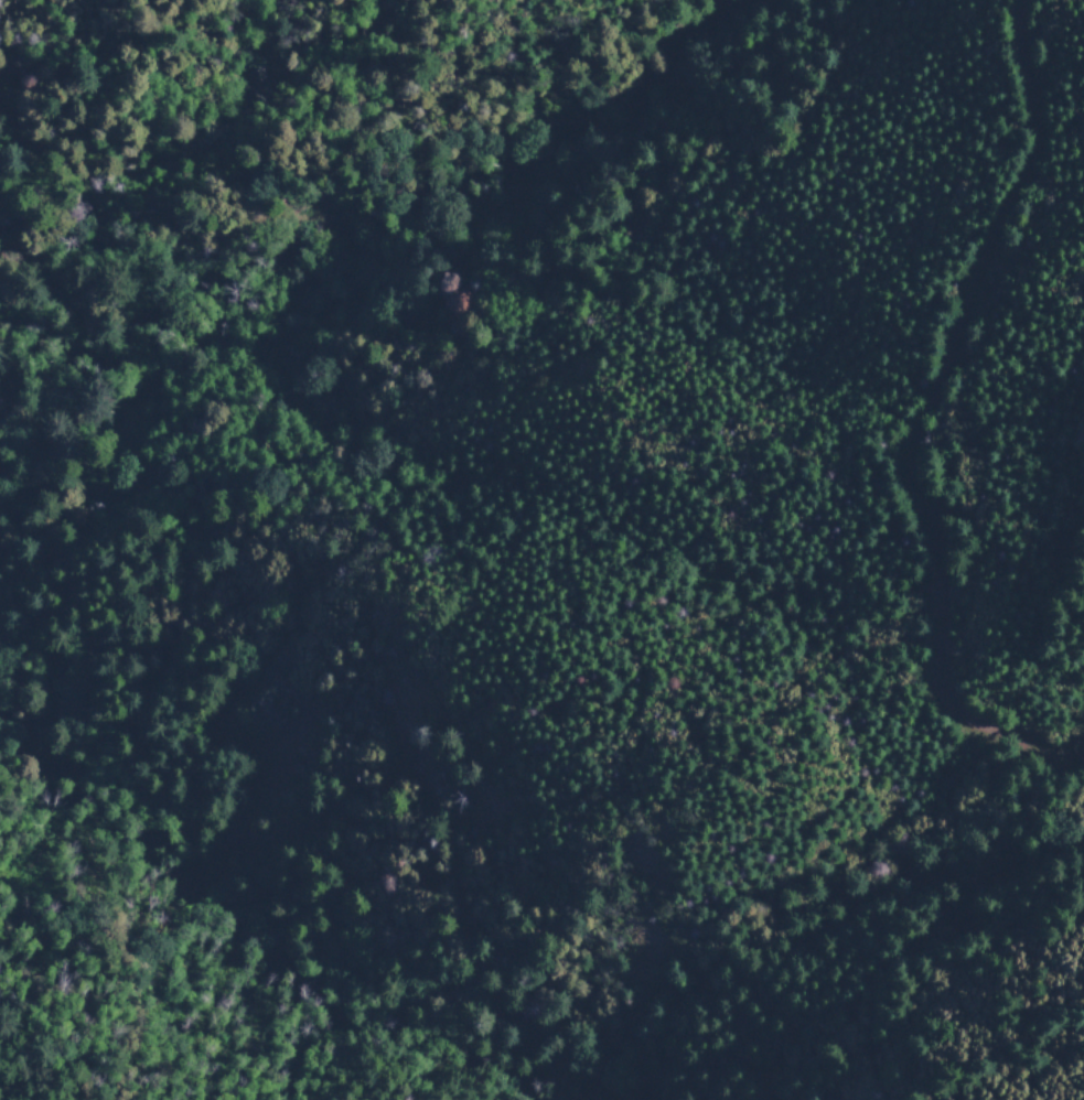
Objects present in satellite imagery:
road: (986, 356)

